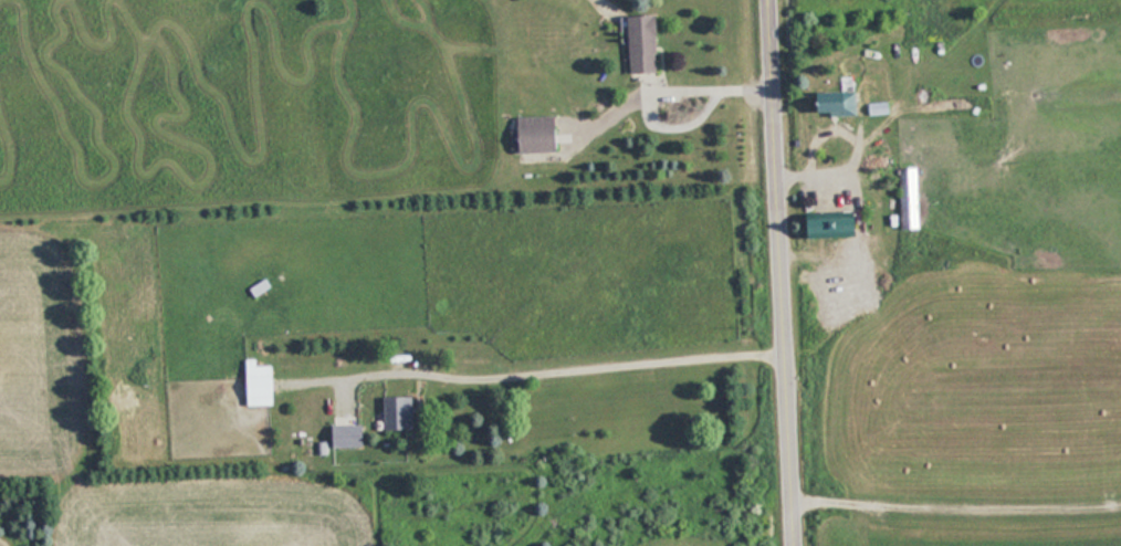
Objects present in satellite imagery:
building: (643, 42)
road: (661, 82)
building: (839, 102)
building: (536, 134)
building: (911, 198)
building: (837, 223)
road: (787, 273)
road: (557, 363)
building: (261, 381)
building: (400, 411)

